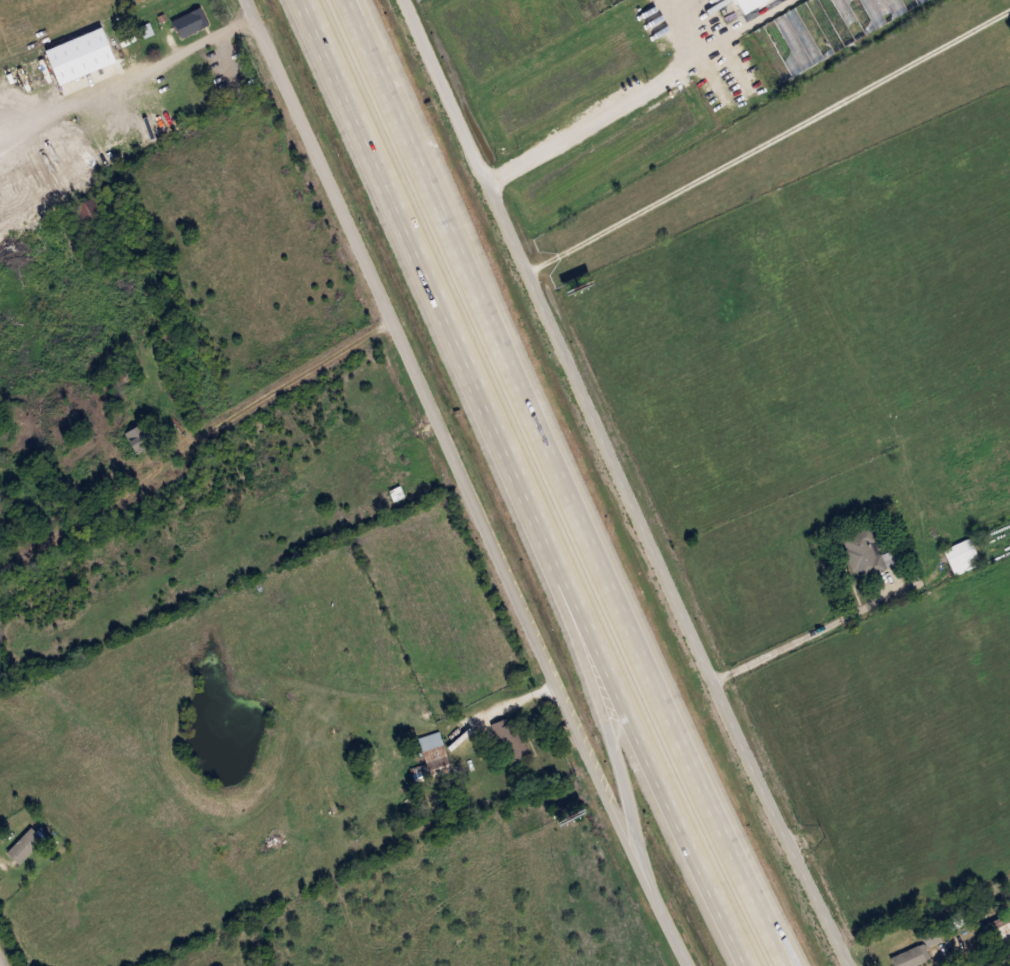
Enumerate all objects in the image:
building: (600, 4)
building: (744, 4)
building: (188, 23)
road: (315, 31)
building: (815, 31)
road: (218, 35)
road: (600, 114)
road: (765, 145)
road: (286, 378)
building: (137, 437)
road: (464, 483)
road: (566, 483)
road: (618, 483)
road: (519, 484)
building: (864, 554)
building: (960, 557)
road: (812, 637)
road: (589, 685)
road: (506, 712)
building: (508, 739)
building: (432, 753)
building: (23, 846)
building: (998, 928)
building: (907, 957)
road: (0, 964)

